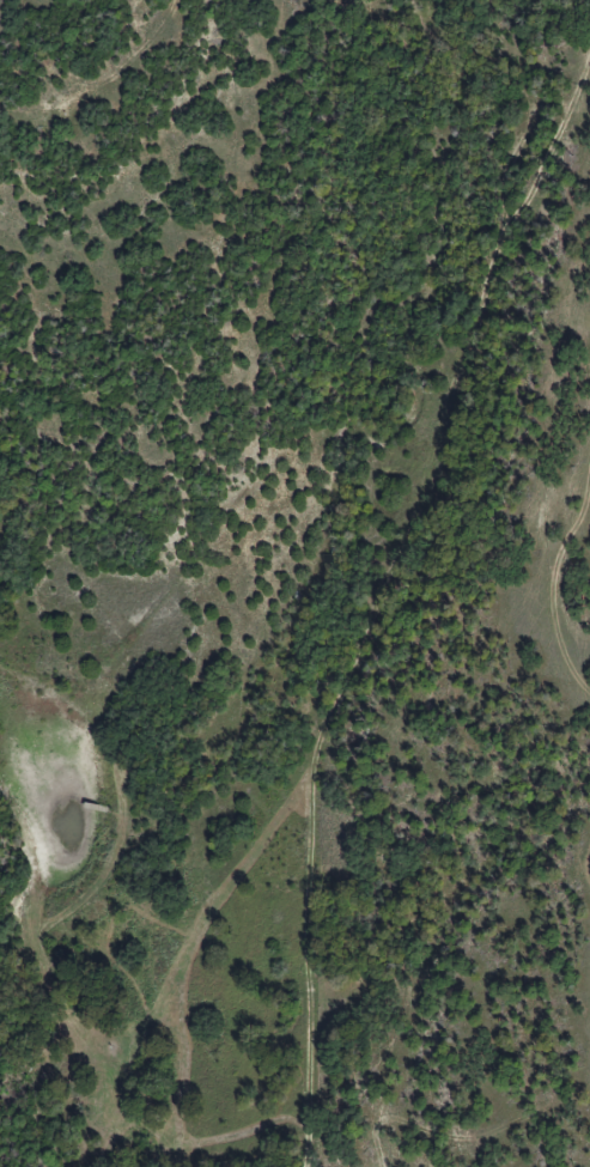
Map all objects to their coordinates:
road: (152, 577)
road: (376, 596)

